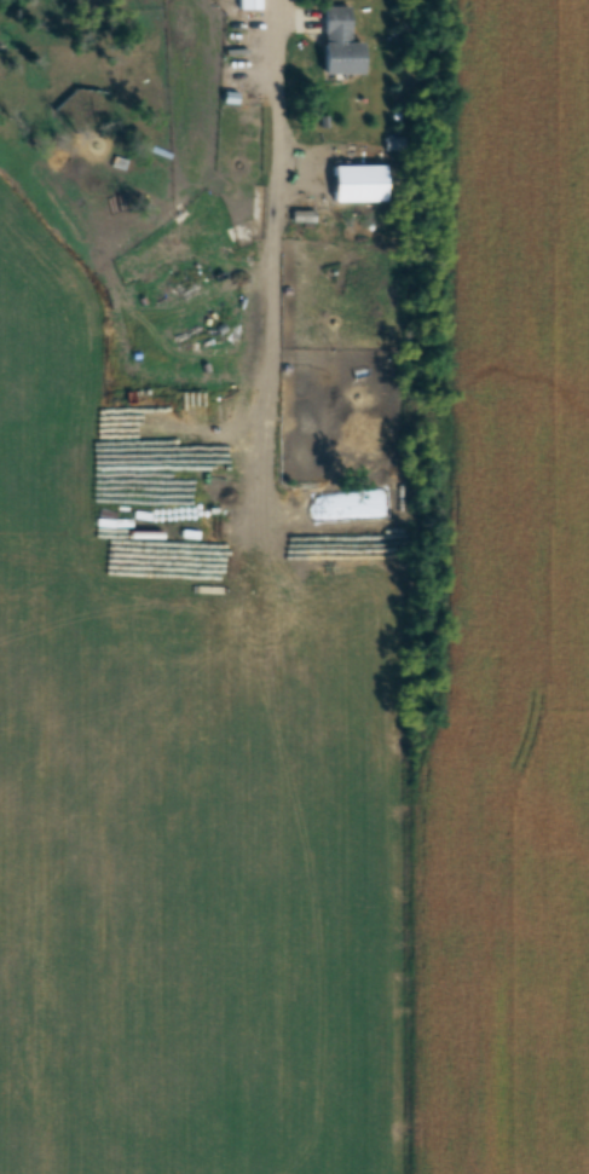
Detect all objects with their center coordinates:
road: (277, 15)
building: (335, 41)
building: (353, 181)

